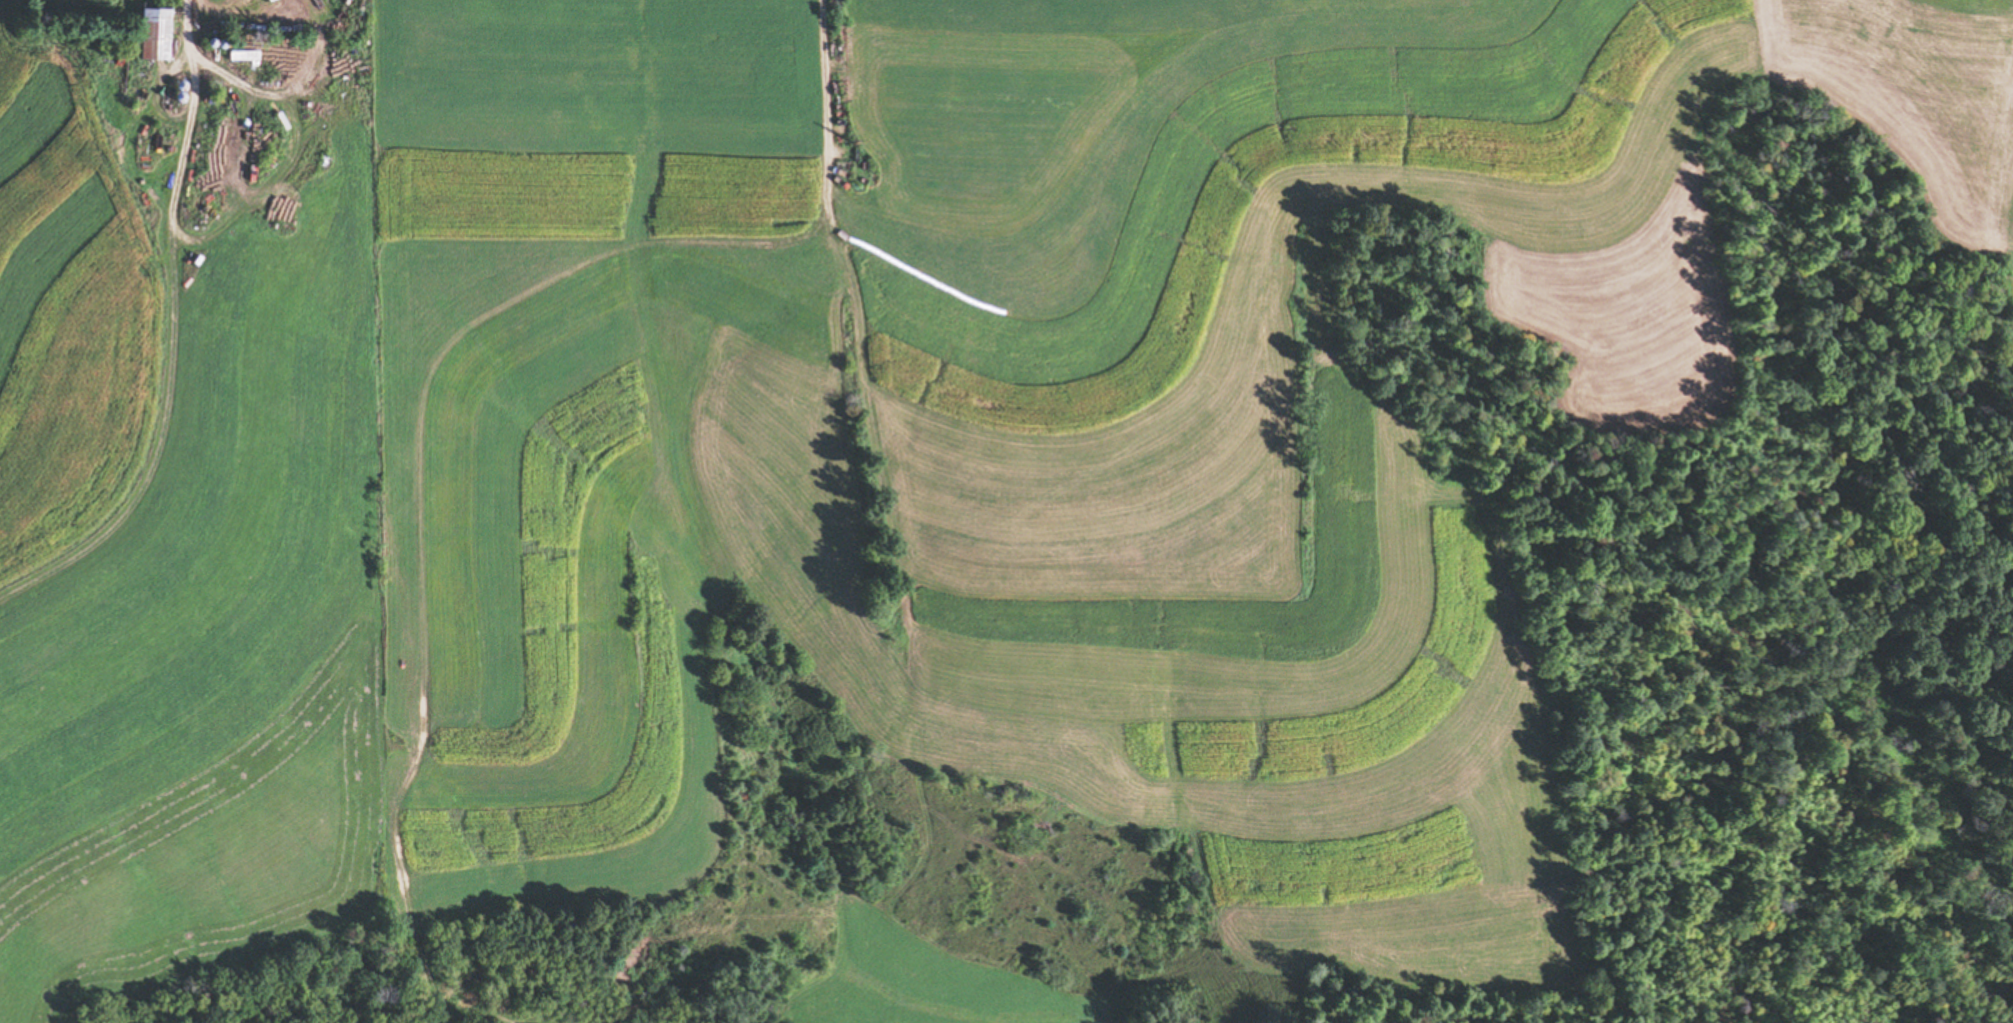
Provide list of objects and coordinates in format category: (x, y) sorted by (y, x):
building: (151, 31)
crop: (1912, 95)
road: (187, 112)
crop: (1264, 408)
crop: (617, 444)
crop: (174, 563)
crop: (909, 978)

